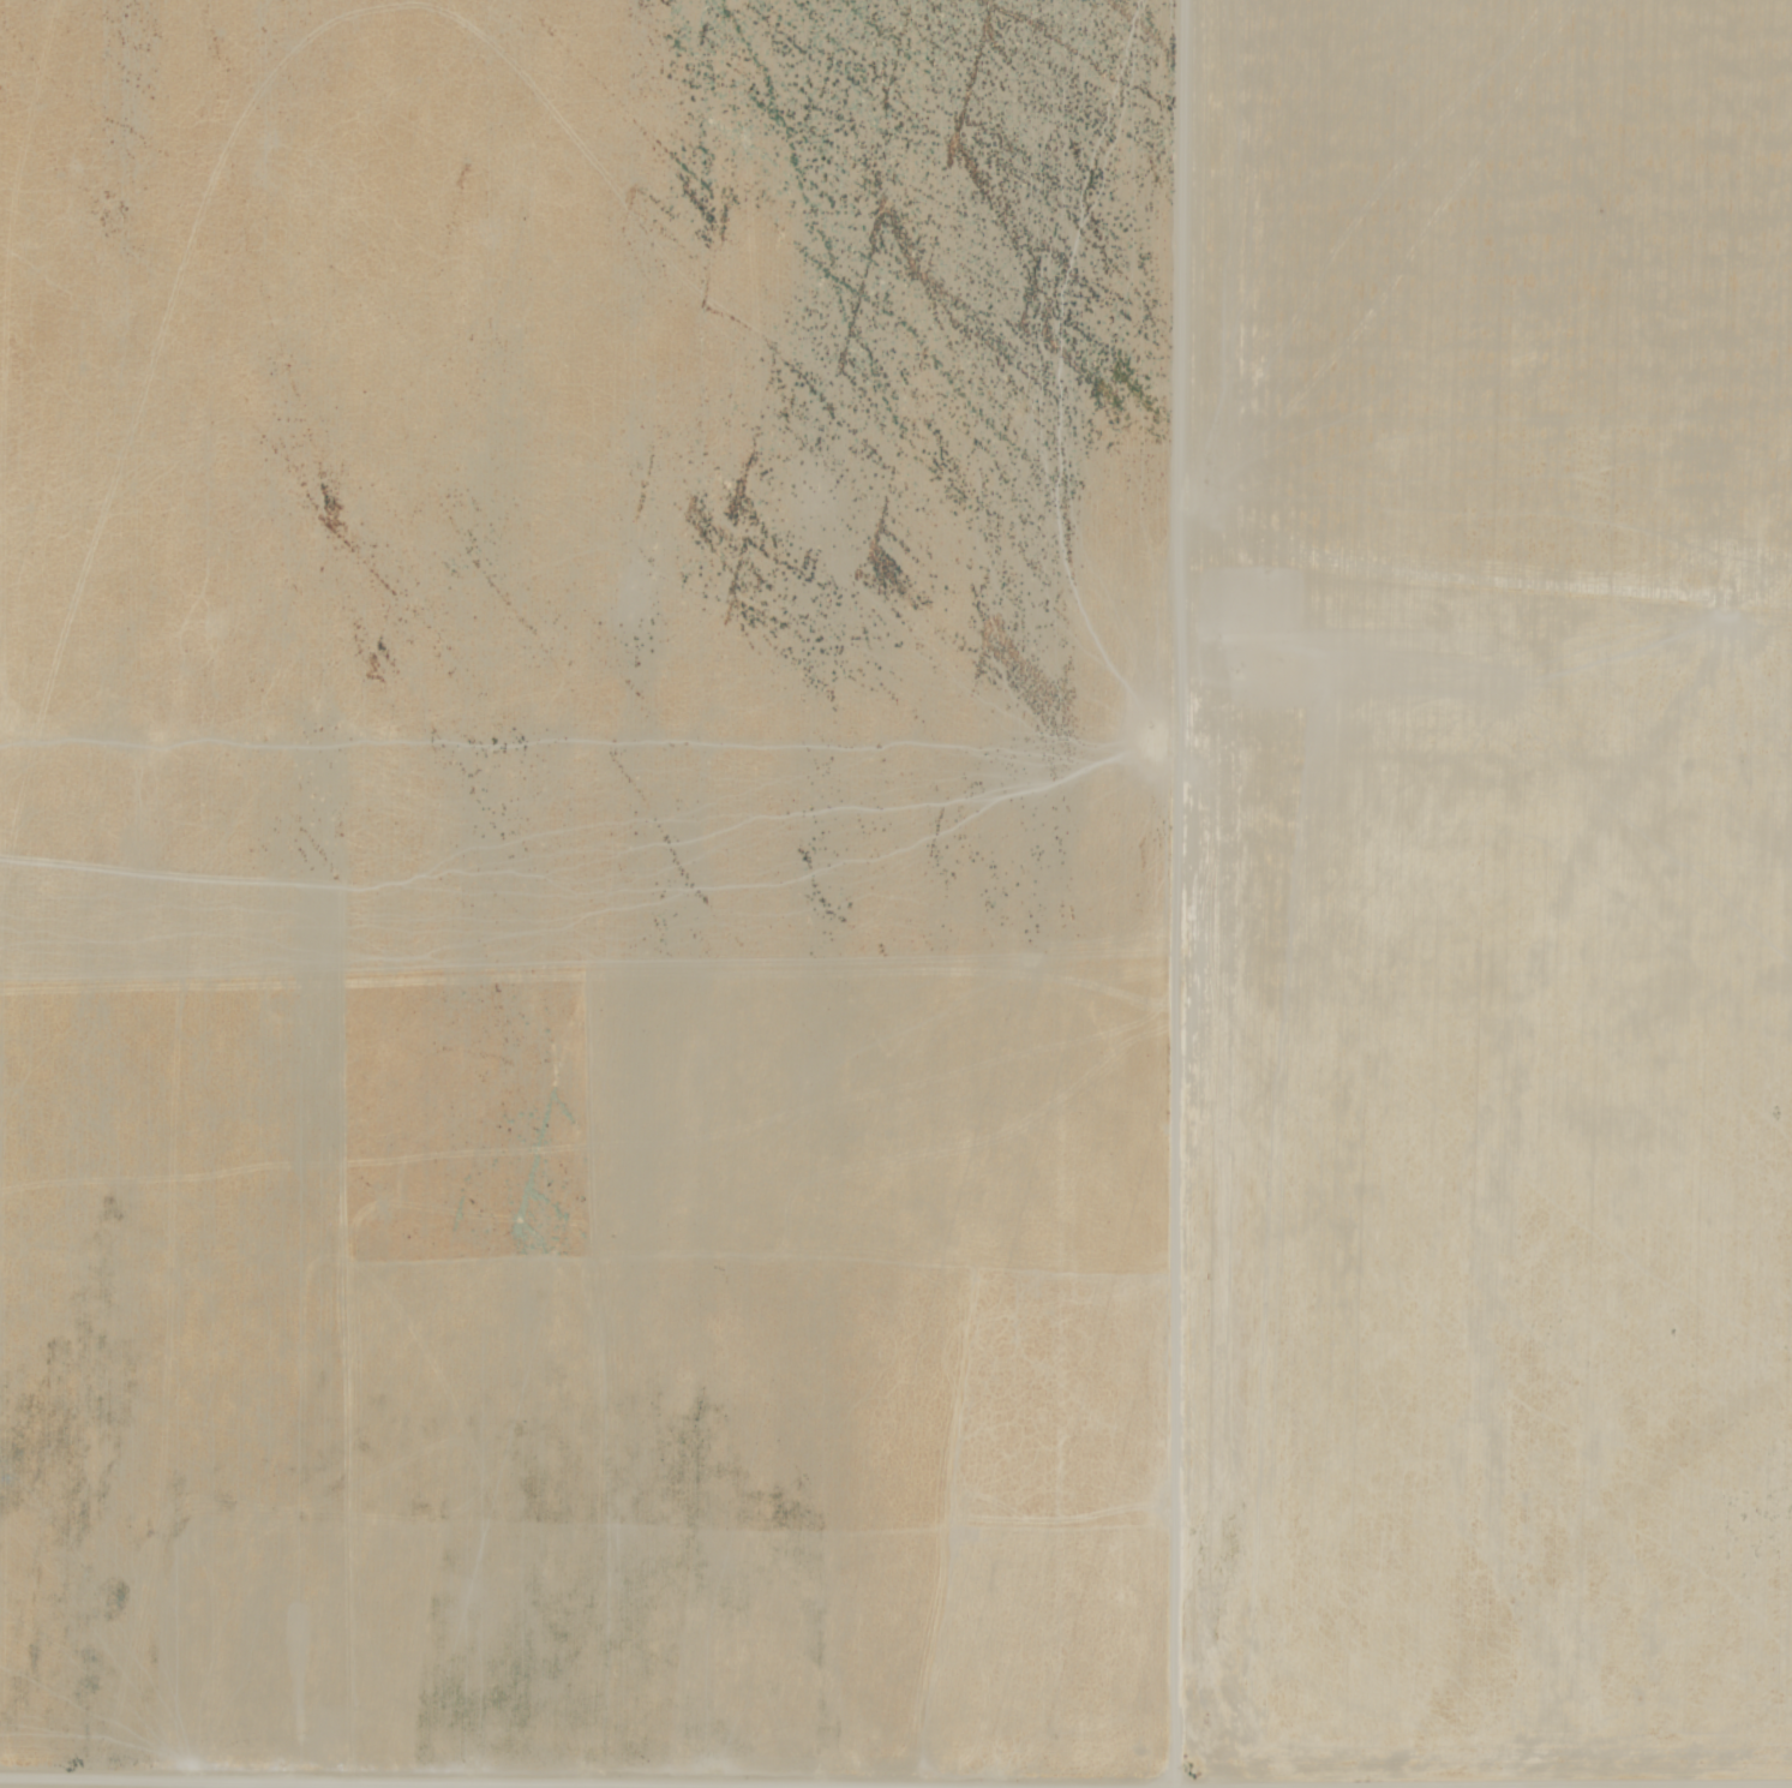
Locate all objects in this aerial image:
road: (1275, 893)
crop: (589, 1781)
road: (479, 1782)

